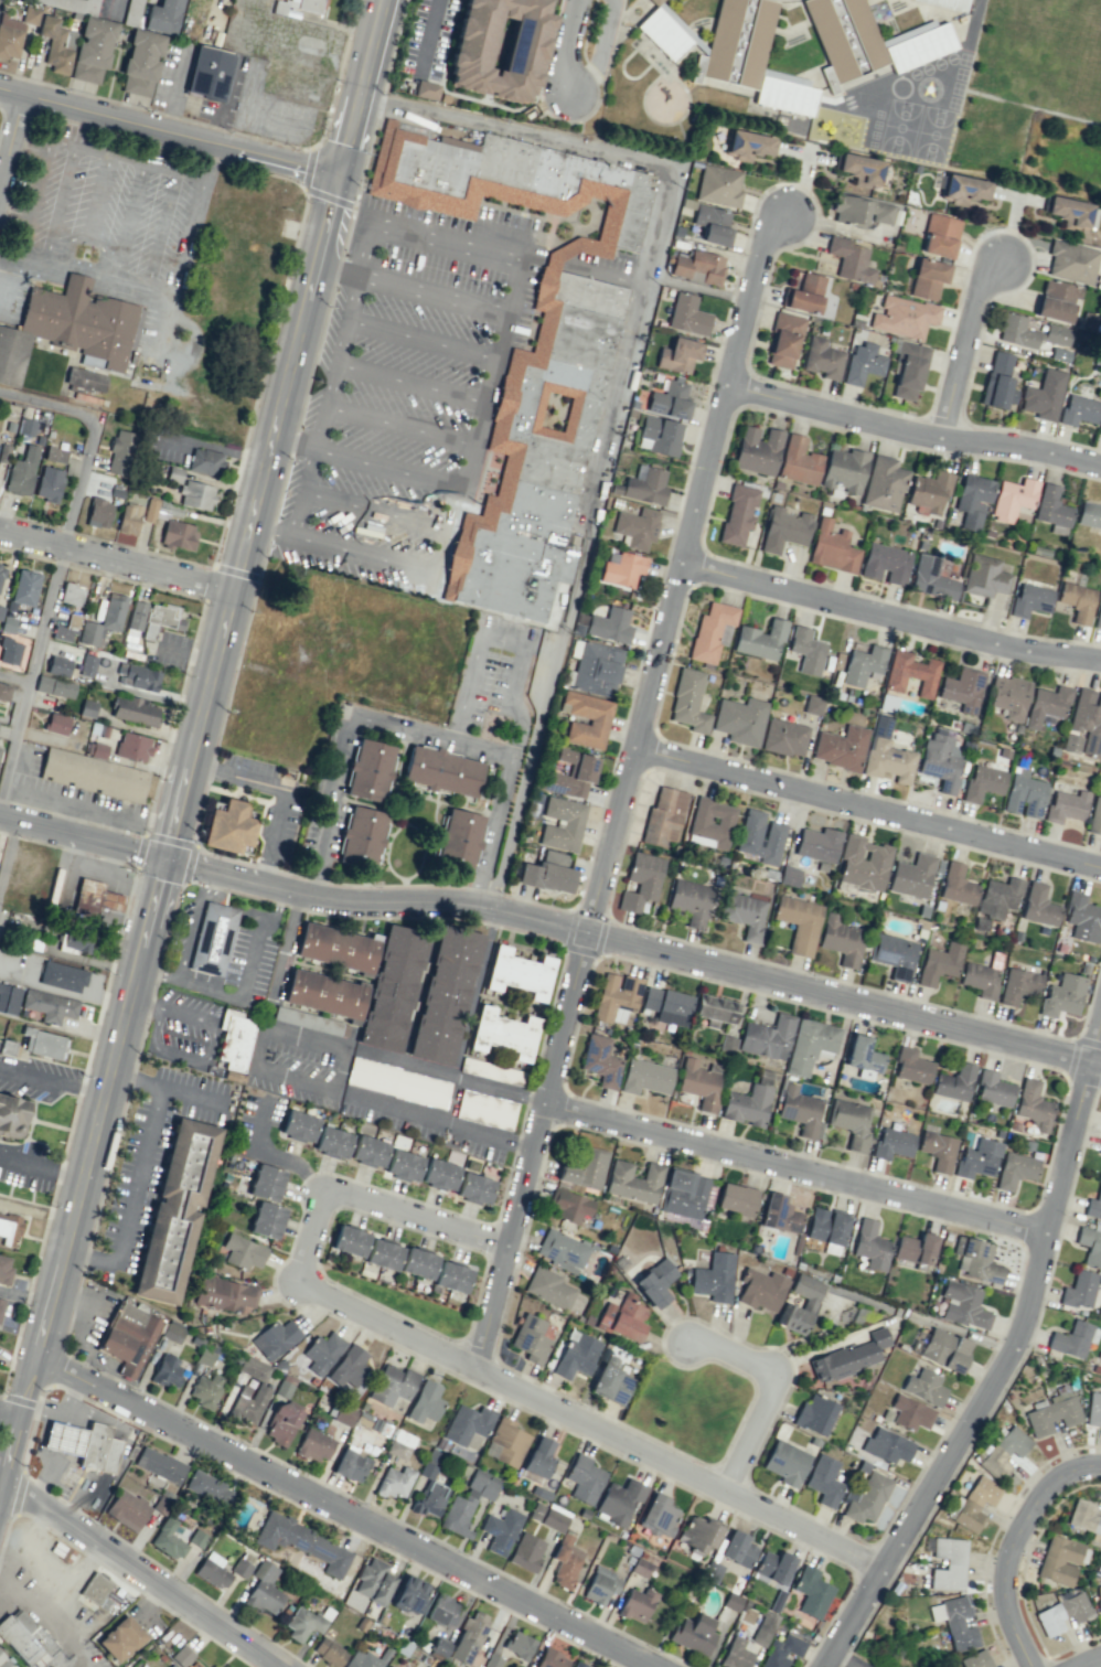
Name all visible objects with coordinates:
building: (949, 3)
building: (74, 4)
building: (297, 6)
building: (162, 17)
building: (14, 32)
road: (427, 34)
building: (868, 41)
building: (56, 44)
building: (499, 47)
building: (92, 50)
road: (567, 52)
building: (731, 52)
building: (140, 62)
building: (207, 73)
road: (363, 86)
building: (426, 89)
park: (1039, 99)
road: (170, 132)
building: (747, 145)
road: (13, 154)
building: (858, 169)
traffic signals: (342, 173)
building: (512, 179)
building: (718, 185)
building: (963, 190)
road: (662, 205)
building: (861, 211)
building: (1068, 211)
building: (713, 225)
building: (940, 235)
road: (443, 243)
building: (849, 259)
building: (1071, 261)
building: (698, 267)
road: (338, 273)
building: (928, 278)
building: (804, 293)
road: (431, 296)
building: (1056, 300)
building: (687, 314)
building: (904, 317)
building: (70, 328)
building: (1029, 332)
road: (419, 340)
building: (783, 340)
road: (969, 353)
building: (1059, 354)
building: (678, 355)
building: (822, 357)
building: (862, 363)
building: (909, 370)
building: (85, 381)
building: (997, 382)
road: (408, 383)
building: (1044, 395)
building: (670, 398)
parking lot: (409, 400)
building: (1079, 409)
road: (397, 426)
building: (25, 427)
building: (1100, 431)
building: (659, 435)
road: (912, 435)
road: (98, 438)
road: (293, 444)
building: (757, 450)
building: (119, 452)
building: (54, 453)
building: (550, 453)
building: (205, 461)
building: (798, 461)
road: (386, 468)
building: (844, 470)
building: (21, 471)
building: (47, 483)
building: (884, 483)
building: (645, 484)
building: (929, 492)
building: (195, 495)
building: (1012, 499)
building: (972, 501)
building: (159, 510)
road: (374, 512)
building: (98, 513)
building: (738, 514)
building: (1089, 514)
road: (254, 515)
building: (128, 517)
building: (637, 527)
building: (784, 528)
road: (271, 533)
building: (178, 534)
building: (832, 548)
road: (362, 556)
road: (117, 562)
road: (576, 565)
building: (0, 568)
building: (621, 568)
building: (984, 576)
building: (931, 578)
building: (24, 587)
building: (72, 594)
building: (1030, 600)
building: (1077, 601)
building: (0, 610)
building: (137, 616)
road: (890, 616)
building: (1098, 618)
building: (161, 619)
building: (103, 620)
building: (610, 624)
building: (710, 631)
building: (61, 633)
building: (760, 640)
road: (503, 642)
building: (10, 650)
building: (806, 650)
building: (863, 664)
building: (58, 665)
building: (87, 665)
building: (597, 669)
building: (910, 673)
road: (19, 676)
building: (137, 676)
road: (38, 683)
building: (54, 686)
building: (962, 690)
building: (3, 692)
building: (1008, 696)
building: (688, 701)
building: (813, 705)
building: (1047, 705)
building: (87, 708)
building: (133, 710)
building: (598, 718)
building: (1088, 719)
building: (739, 720)
building: (56, 724)
road: (416, 730)
building: (784, 737)
building: (1071, 742)
road: (532, 746)
building: (132, 747)
building: (841, 747)
building: (0, 748)
building: (96, 749)
building: (888, 760)
building: (940, 761)
building: (368, 770)
building: (441, 771)
building: (571, 773)
building: (93, 774)
building: (983, 782)
road: (624, 787)
road: (281, 790)
building: (1024, 794)
building: (1066, 805)
road: (867, 811)
building: (663, 816)
building: (1094, 816)
road: (9, 819)
building: (562, 823)
building: (710, 823)
building: (227, 826)
building: (760, 836)
building: (360, 837)
road: (90, 840)
building: (457, 840)
building: (817, 844)
road: (9, 856)
building: (863, 863)
building: (547, 873)
building: (789, 876)
building: (911, 876)
building: (641, 881)
building: (956, 885)
building: (998, 897)
building: (94, 898)
road: (374, 900)
building: (690, 900)
building: (1038, 906)
building: (745, 915)
building: (1082, 918)
building: (799, 922)
building: (213, 939)
building: (77, 940)
building: (841, 940)
building: (336, 947)
building: (892, 954)
building: (939, 963)
building: (519, 973)
building: (62, 976)
building: (980, 979)
road: (275, 980)
building: (1018, 985)
building: (392, 987)
building: (324, 993)
building: (445, 994)
building: (1062, 995)
building: (616, 996)
building: (9, 997)
road: (843, 998)
building: (50, 1005)
building: (666, 1005)
building: (715, 1008)
building: (306, 1019)
building: (503, 1033)
building: (767, 1037)
building: (234, 1039)
road: (325, 1041)
building: (42, 1043)
building: (810, 1045)
building: (863, 1055)
building: (600, 1060)
building: (911, 1066)
building: (491, 1071)
road: (453, 1077)
building: (645, 1077)
road: (295, 1078)
building: (397, 1082)
building: (954, 1082)
building: (993, 1089)
building: (1033, 1104)
building: (747, 1105)
building: (485, 1110)
building: (800, 1110)
building: (12, 1116)
road: (441, 1119)
building: (851, 1122)
building: (298, 1125)
building: (332, 1142)
building: (892, 1143)
building: (1100, 1148)
building: (938, 1150)
building: (368, 1151)
building: (977, 1157)
building: (404, 1165)
building: (585, 1168)
road: (794, 1168)
building: (1015, 1169)
road: (139, 1174)
building: (439, 1174)
road: (87, 1175)
building: (633, 1182)
building: (266, 1183)
building: (474, 1188)
building: (683, 1194)
building: (736, 1199)
building: (1093, 1204)
road: (370, 1205)
building: (569, 1205)
building: (174, 1211)
building: (779, 1214)
building: (266, 1219)
building: (9, 1229)
building: (826, 1229)
building: (349, 1240)
building: (870, 1244)
building: (1090, 1246)
building: (915, 1248)
building: (562, 1250)
building: (243, 1251)
building: (382, 1254)
building: (976, 1259)
building: (418, 1263)
building: (4, 1269)
building: (451, 1276)
building: (713, 1278)
building: (654, 1282)
building: (548, 1287)
building: (761, 1289)
building: (1079, 1290)
building: (225, 1294)
building: (963, 1304)
building: (1, 1305)
park: (409, 1305)
building: (808, 1305)
building: (622, 1317)
building: (173, 1331)
building: (128, 1338)
building: (275, 1338)
building: (530, 1338)
building: (1071, 1339)
building: (944, 1349)
building: (322, 1351)
building: (576, 1355)
building: (205, 1357)
building: (849, 1357)
road: (1006, 1359)
building: (349, 1367)
building: (254, 1368)
building: (167, 1370)
building: (610, 1381)
building: (393, 1385)
building: (924, 1387)
road: (770, 1388)
building: (206, 1390)
building: (426, 1401)
building: (248, 1402)
park: (692, 1409)
building: (1093, 1410)
building: (910, 1412)
building: (343, 1414)
building: (814, 1414)
building: (1052, 1415)
road: (12, 1419)
building: (281, 1423)
building: (467, 1423)
road: (589, 1426)
building: (505, 1442)
building: (84, 1444)
building: (314, 1445)
building: (886, 1445)
building: (1004, 1451)
building: (538, 1457)
building: (785, 1462)
building: (159, 1464)
building: (351, 1464)
building: (584, 1478)
building: (824, 1481)
building: (395, 1482)
building: (209, 1488)
building: (430, 1498)
building: (866, 1498)
road: (1, 1500)
building: (619, 1500)
road: (2, 1503)
building: (468, 1503)
building: (975, 1503)
building: (127, 1509)
road: (348, 1515)
building: (658, 1516)
building: (1083, 1516)
building: (554, 1520)
building: (501, 1530)
building: (697, 1534)
road: (30, 1539)
building: (168, 1539)
building: (303, 1542)
road: (1011, 1546)
building: (737, 1549)
building: (526, 1551)
building: (1059, 1560)
building: (565, 1562)
building: (948, 1563)
building: (773, 1566)
building: (640, 1567)
building: (240, 1568)
building: (213, 1570)
road: (52, 1573)
road: (142, 1579)
building: (374, 1581)
road: (14, 1584)
building: (601, 1585)
building: (264, 1589)
building: (96, 1590)
building: (811, 1592)
building: (408, 1594)
building: (1099, 1596)
road: (0, 1599)
building: (731, 1601)
building: (637, 1604)
building: (442, 1611)
building: (936, 1612)
building: (1061, 1613)
building: (959, 1624)
building: (761, 1633)
building: (693, 1634)
building: (24, 1637)
building: (468, 1637)
building: (120, 1638)
building: (488, 1638)
building: (519, 1645)
building: (782, 1650)
building: (329, 1652)
building: (735, 1654)
building: (181, 1656)
building: (361, 1659)
building: (552, 1659)
building: (976, 1659)
road: (1084, 1660)
building: (4, 1661)
building: (577, 1664)
building: (226, 1666)
building: (389, 1666)

